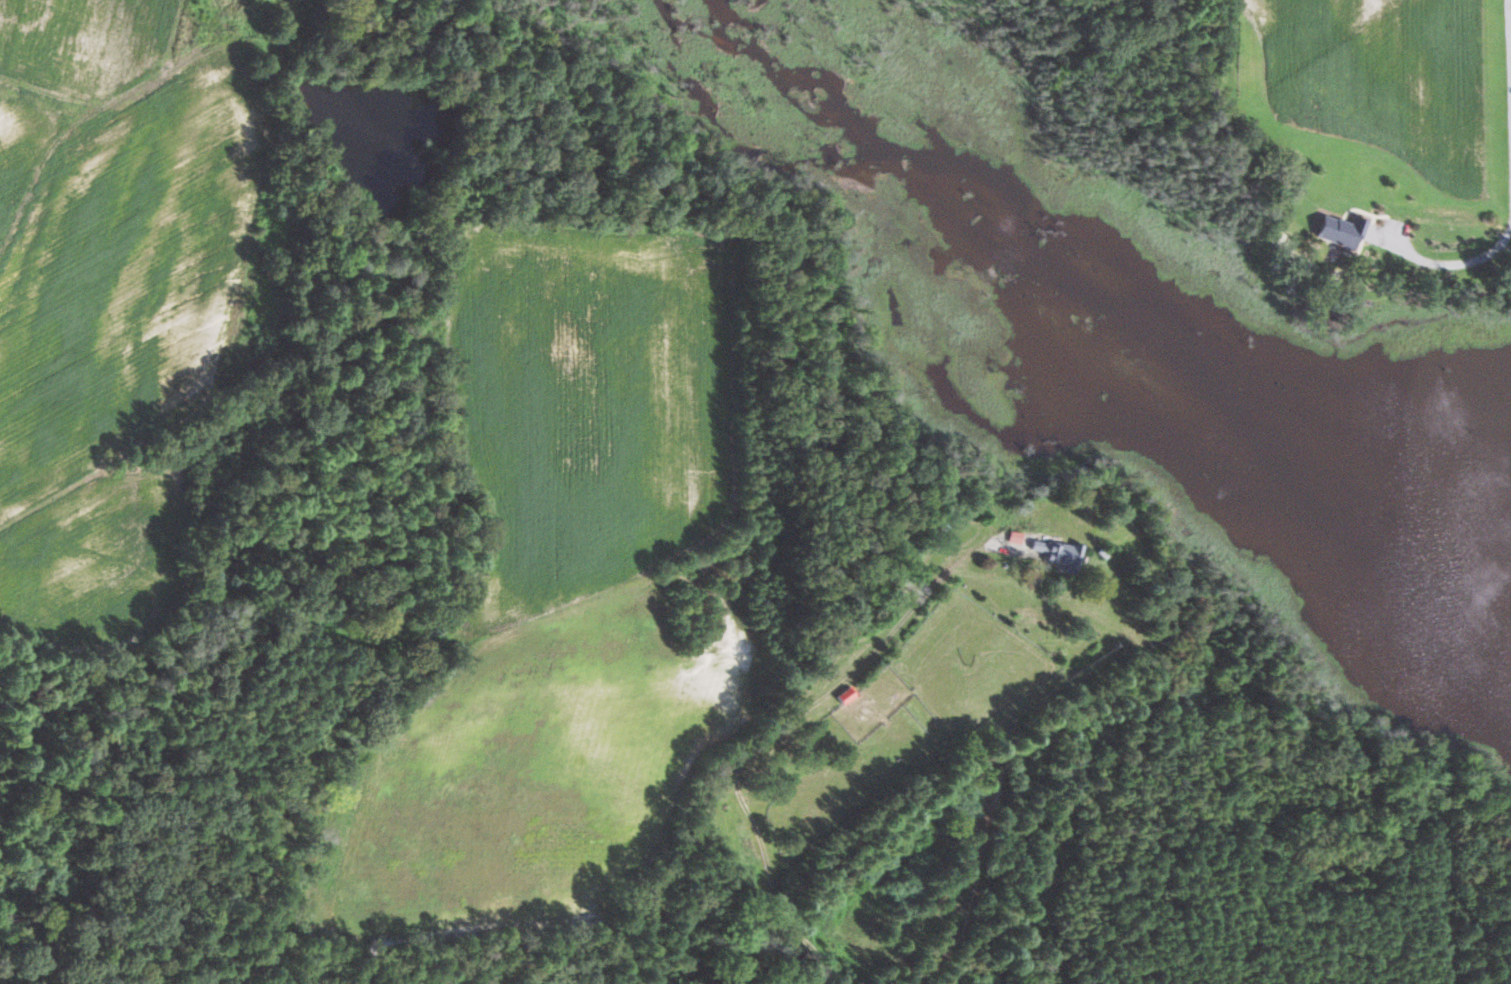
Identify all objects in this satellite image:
road: (1509, 170)
building: (1342, 231)
river: (1095, 338)
building: (1061, 554)
building: (847, 695)
road: (777, 729)

